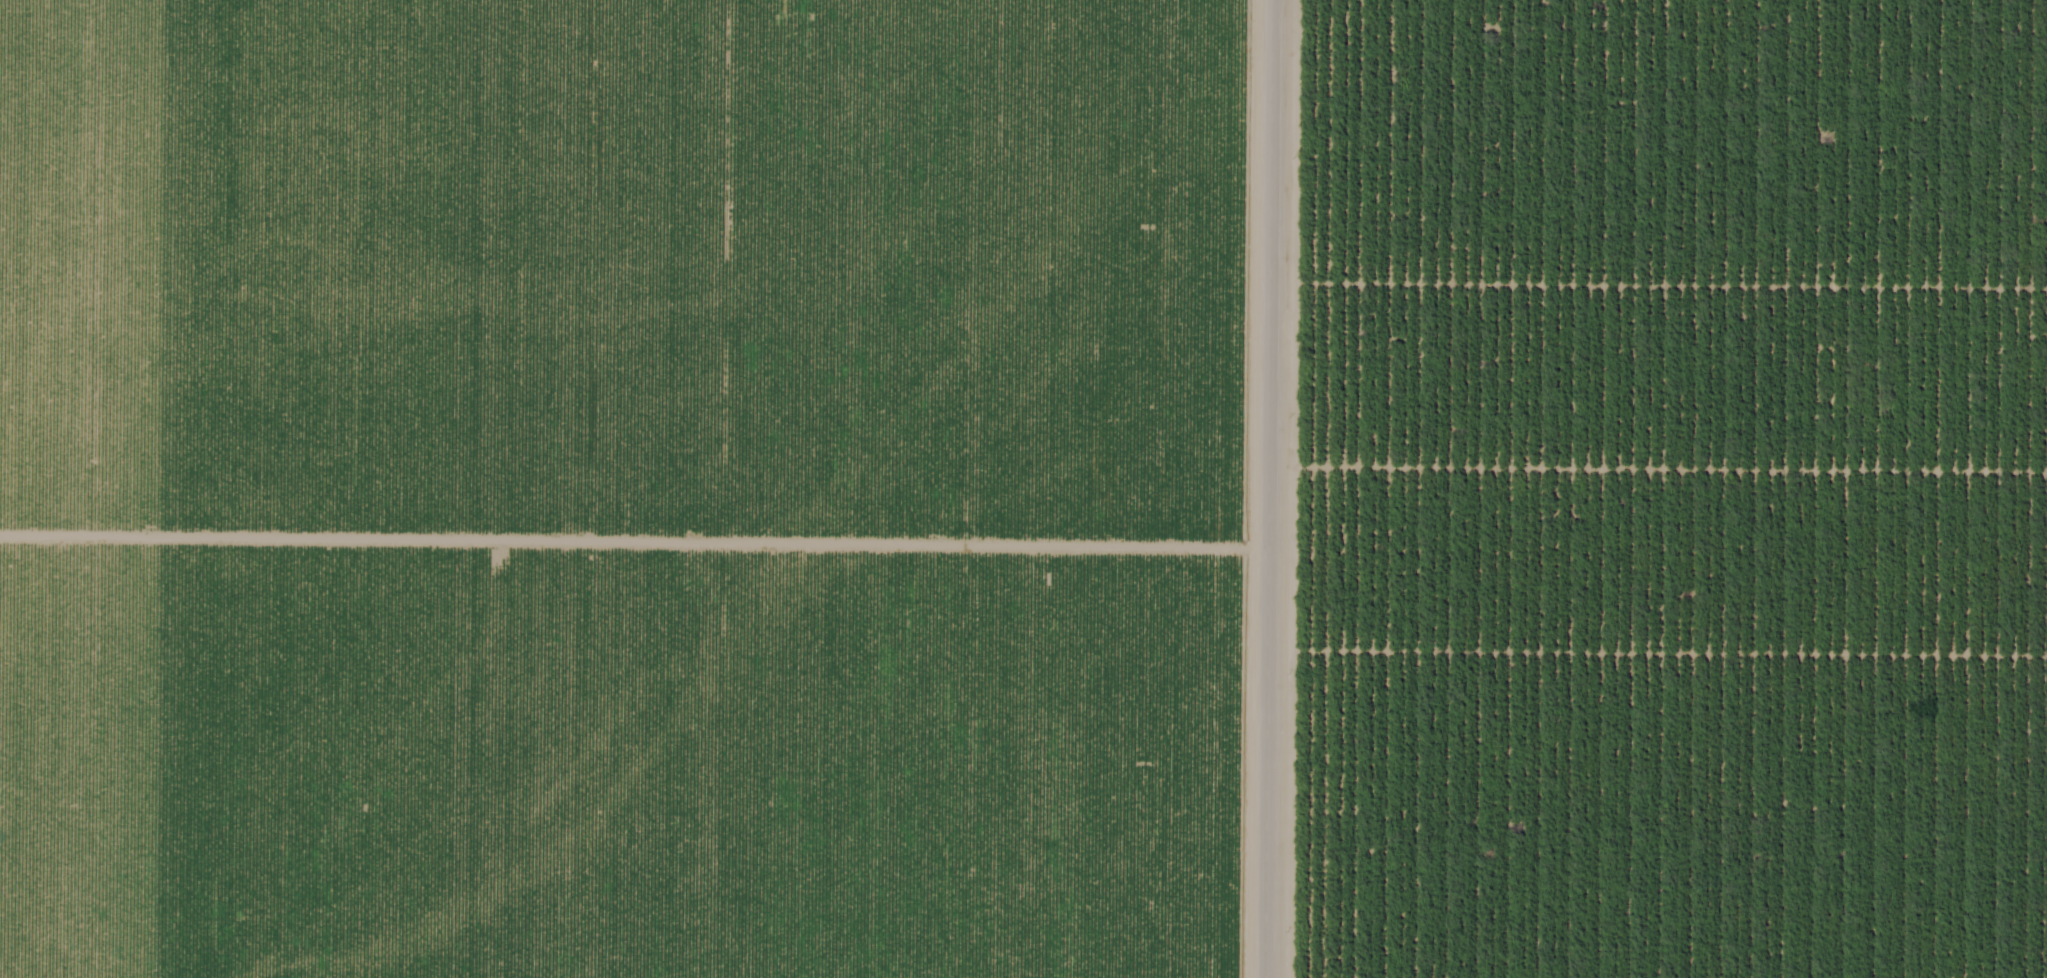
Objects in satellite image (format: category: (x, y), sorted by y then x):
crop: (1695, 488)
crop: (643, 489)
road: (1265, 489)

